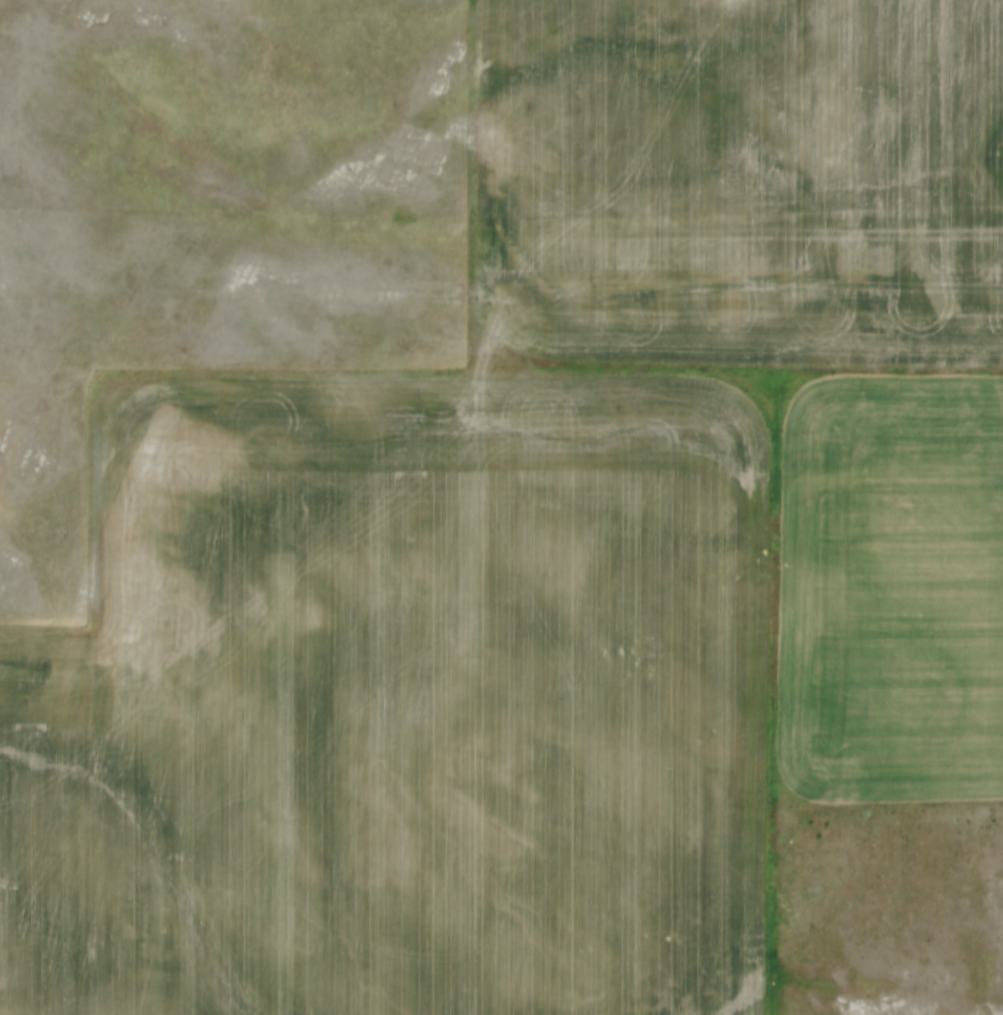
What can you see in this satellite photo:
road: (388, 197)

